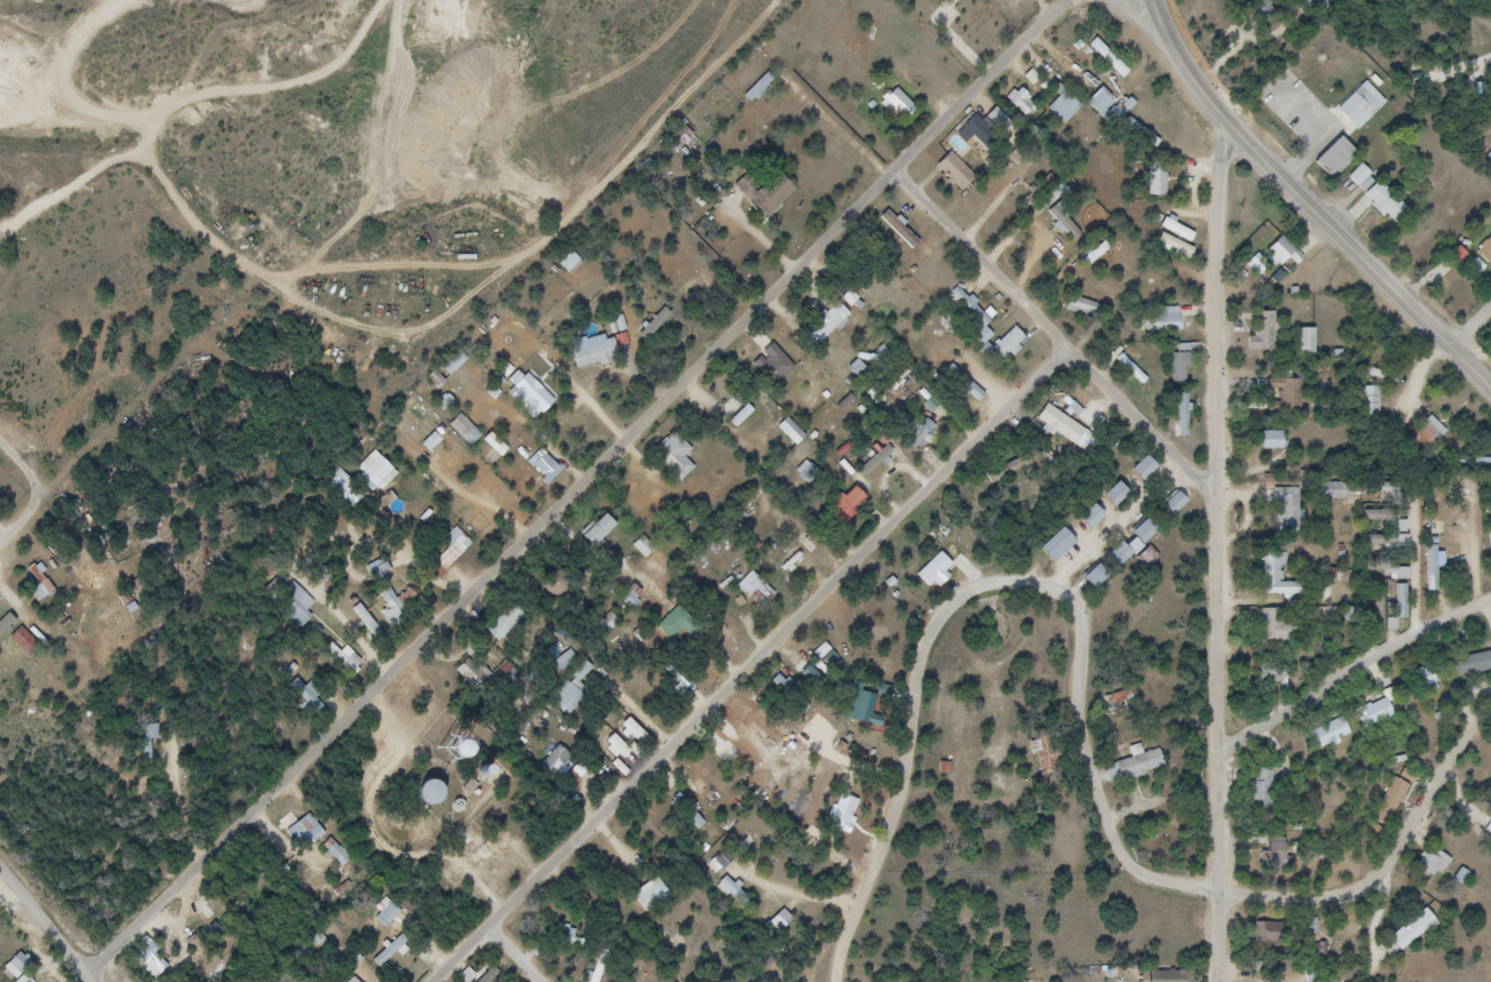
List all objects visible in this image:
building: (949, 0)
building: (1263, 11)
road: (1149, 17)
road: (298, 23)
building: (1109, 59)
building: (759, 90)
building: (1099, 102)
building: (1021, 103)
building: (909, 107)
building: (1065, 107)
building: (1370, 110)
building: (981, 132)
building: (1141, 134)
building: (680, 139)
building: (1344, 165)
building: (965, 175)
building: (1166, 185)
building: (774, 197)
building: (1388, 199)
road: (1310, 203)
building: (1065, 223)
building: (900, 230)
building: (1178, 231)
building: (1041, 243)
building: (1176, 246)
road: (993, 250)
building: (1486, 251)
building: (1096, 253)
building: (1293, 256)
building: (683, 261)
building: (570, 263)
building: (1081, 307)
building: (974, 319)
building: (1167, 319)
road: (1469, 322)
building: (828, 324)
building: (1177, 325)
building: (1269, 337)
building: (1009, 343)
building: (1307, 343)
building: (1016, 348)
building: (597, 356)
building: (776, 364)
building: (1190, 367)
building: (449, 368)
building: (1180, 369)
building: (859, 370)
building: (1141, 374)
building: (964, 385)
road: (153, 393)
building: (539, 397)
building: (1296, 401)
building: (1370, 402)
building: (943, 405)
building: (1183, 414)
road: (1148, 418)
building: (1077, 419)
building: (753, 420)
building: (1192, 421)
building: (465, 431)
building: (791, 431)
building: (917, 432)
building: (1432, 432)
building: (1272, 440)
building: (1281, 449)
building: (871, 454)
building: (675, 457)
building: (1472, 463)
building: (546, 467)
building: (1143, 469)
building: (808, 473)
building: (1154, 477)
road: (62, 484)
road: (580, 485)
building: (1333, 491)
building: (1114, 495)
road: (476, 501)
building: (1124, 503)
building: (1173, 504)
building: (849, 505)
building: (1183, 513)
building: (1090, 518)
building: (1294, 518)
building: (1417, 520)
road: (1128, 523)
building: (1100, 525)
building: (1400, 526)
building: (597, 531)
building: (1143, 532)
building: (1490, 535)
building: (1390, 542)
building: (1153, 543)
building: (1056, 546)
building: (644, 547)
building: (447, 553)
building: (1066, 553)
road: (1219, 555)
building: (1117, 556)
building: (796, 558)
building: (1127, 564)
building: (378, 570)
building: (935, 571)
building: (1390, 573)
building: (1331, 575)
building: (1095, 577)
building: (40, 581)
building: (1285, 584)
building: (1430, 584)
building: (555, 585)
building: (1103, 585)
building: (632, 598)
building: (293, 602)
building: (399, 606)
building: (1378, 611)
building: (506, 622)
building: (6, 623)
building: (610, 624)
building: (1283, 635)
building: (25, 641)
building: (345, 660)
building: (567, 661)
road: (751, 661)
building: (1477, 671)
building: (474, 673)
building: (1272, 675)
road: (1354, 676)
building: (1427, 680)
building: (784, 685)
building: (1434, 688)
building: (572, 691)
road: (1081, 695)
building: (1125, 695)
building: (309, 699)
building: (863, 710)
building: (1385, 719)
building: (1332, 735)
building: (608, 738)
building: (1341, 739)
building: (149, 742)
building: (1047, 751)
building: (759, 755)
building: (555, 763)
building: (1148, 767)
building: (822, 776)
building: (1262, 789)
building: (426, 795)
building: (1402, 803)
building: (1269, 805)
building: (689, 812)
building: (844, 816)
building: (306, 832)
building: (730, 851)
building: (340, 855)
building: (1284, 855)
building: (1440, 870)
building: (738, 896)
building: (653, 897)
building: (389, 915)
building: (779, 917)
road: (45, 918)
building: (1412, 931)
building: (1353, 932)
building: (1318, 933)
building: (1426, 934)
building: (1273, 937)
building: (565, 938)
building: (319, 941)
road: (527, 949)
building: (393, 951)
building: (152, 958)
building: (20, 964)
building: (595, 973)
road: (97, 975)
building: (488, 975)
building: (1171, 976)
building: (355, 980)

